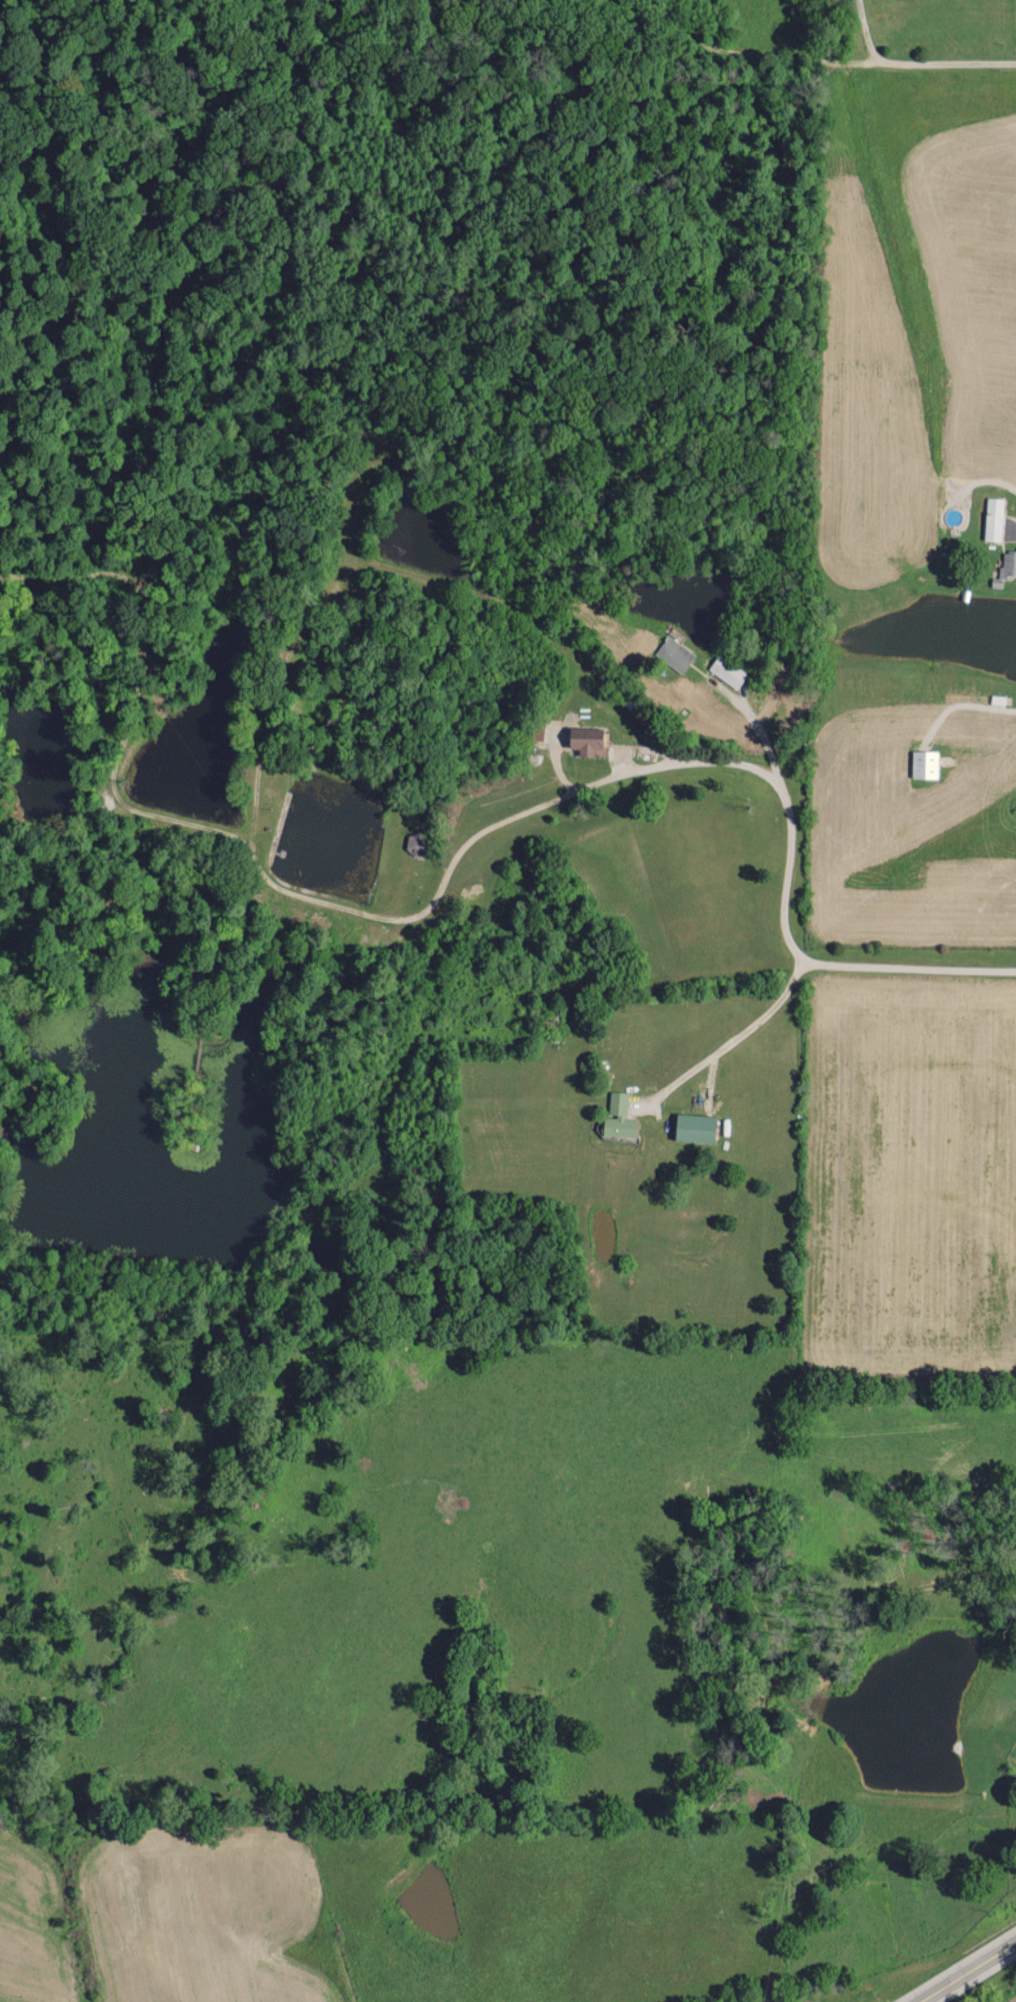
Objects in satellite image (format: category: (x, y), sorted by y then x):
road: (830, 60)
building: (992, 519)
building: (673, 654)
building: (726, 671)
building: (585, 739)
building: (924, 764)
road: (602, 775)
building: (415, 845)
building: (618, 1117)
building: (694, 1128)
road: (964, 1970)

